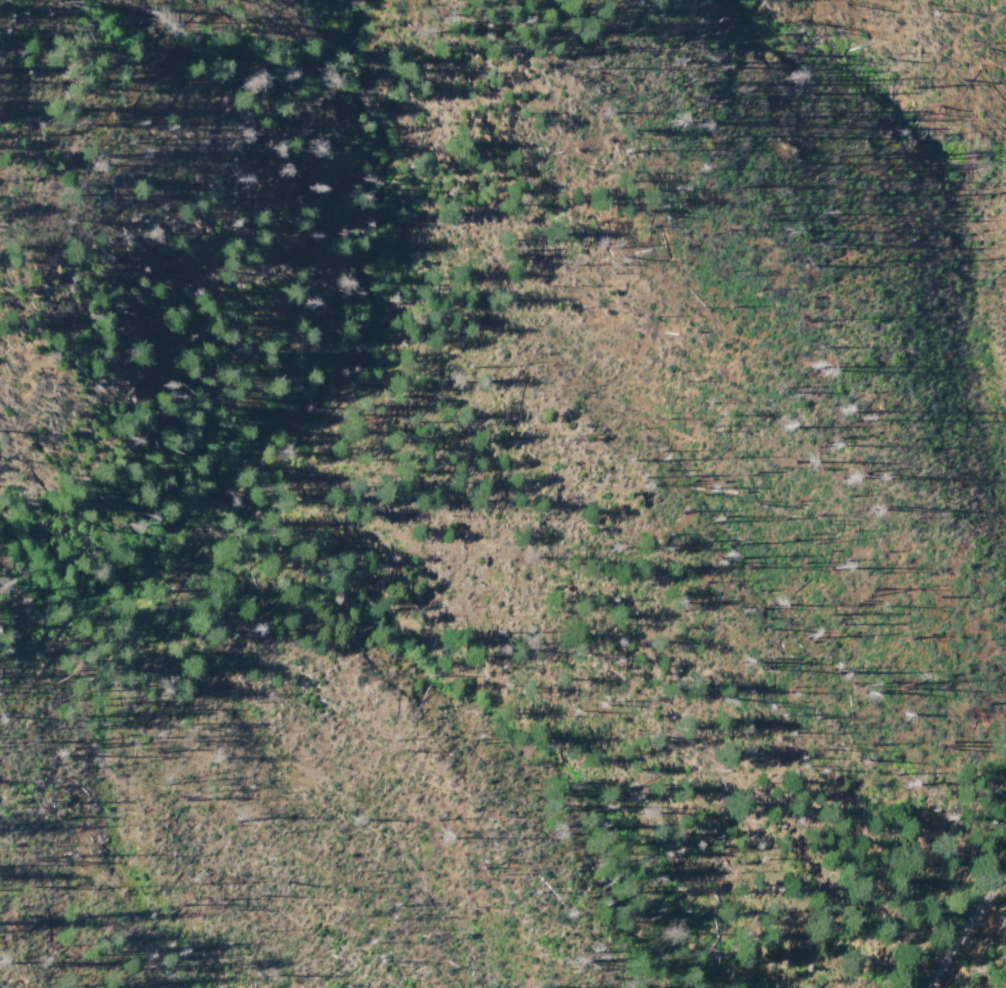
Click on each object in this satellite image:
road: (956, 916)

